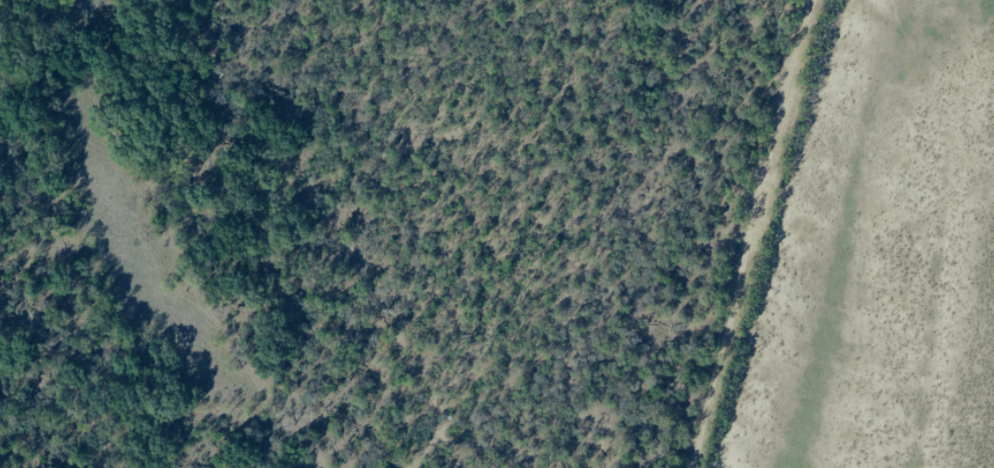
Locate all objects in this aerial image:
road: (752, 233)

